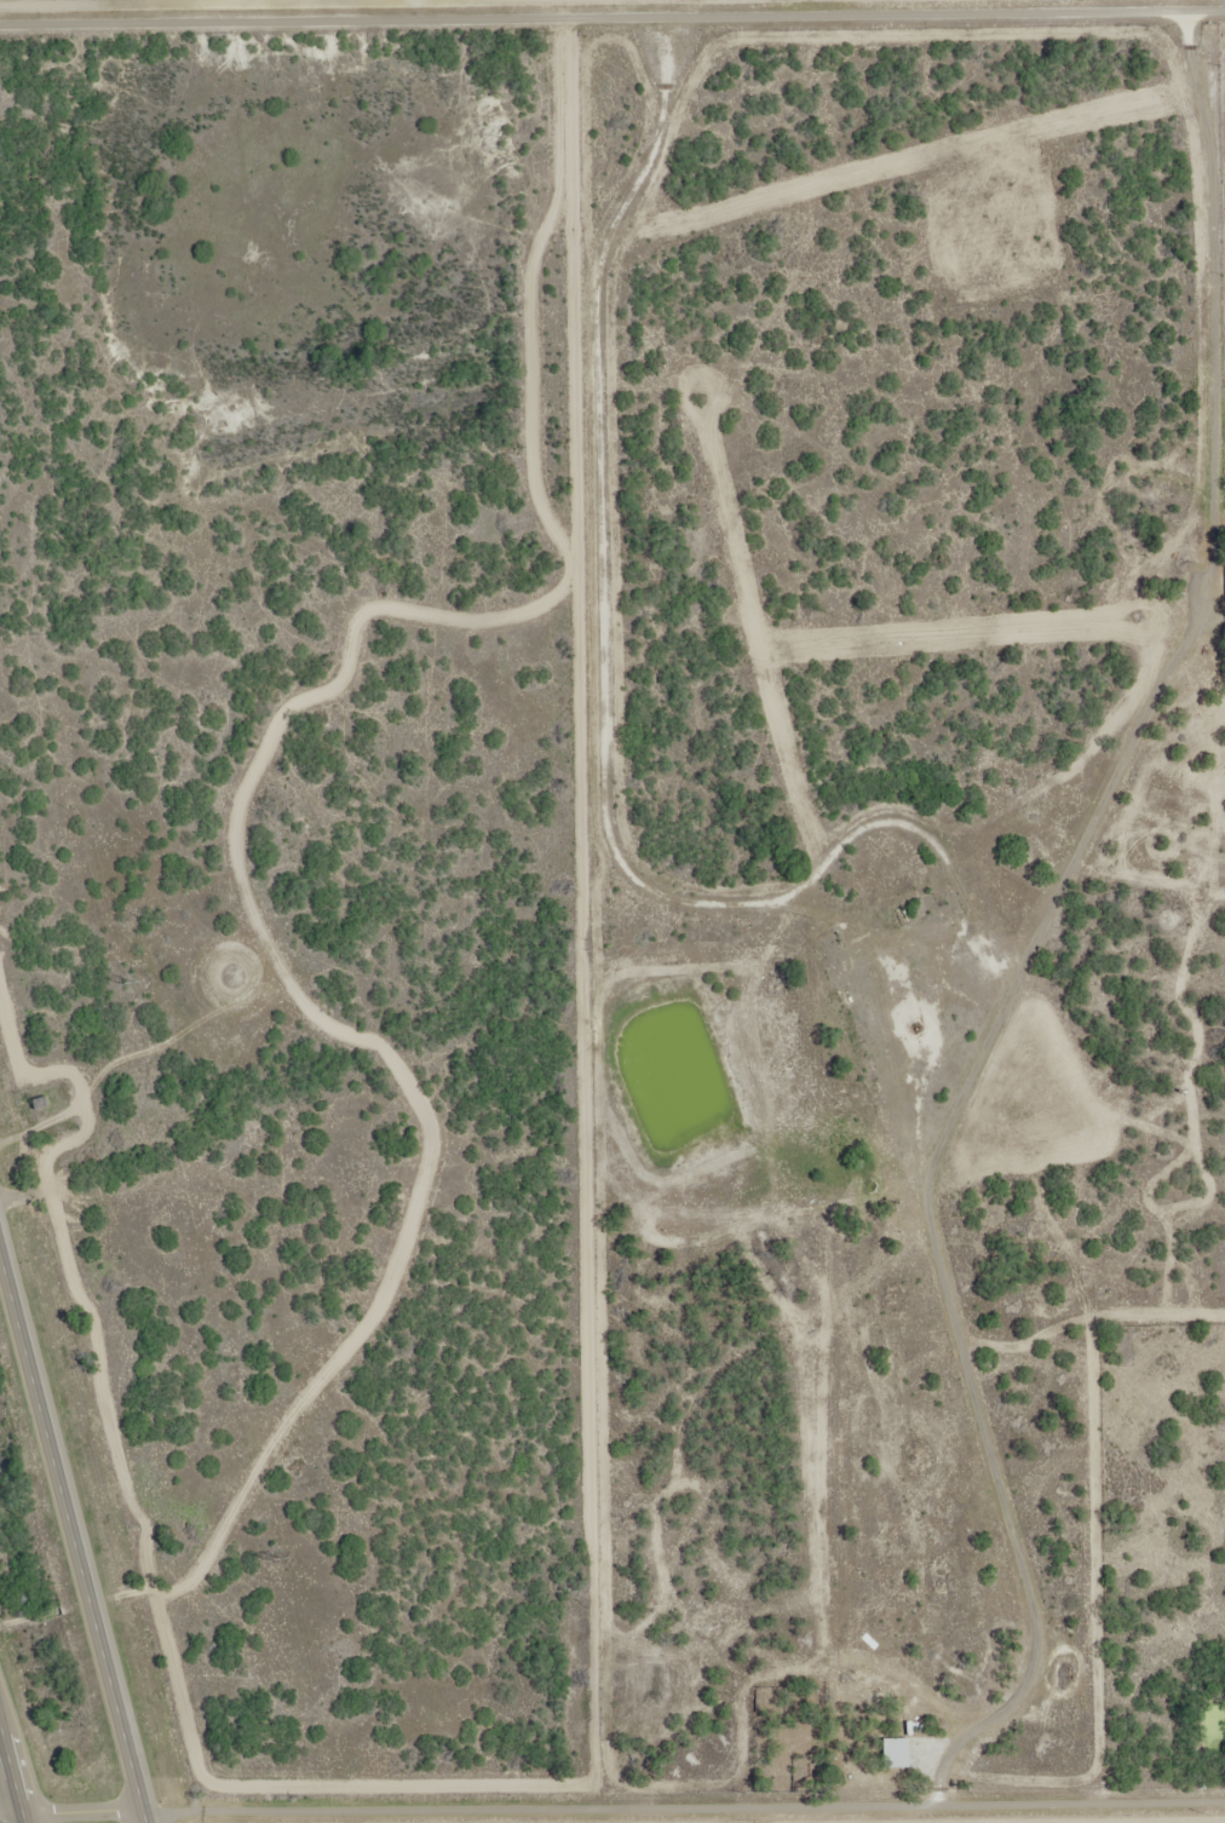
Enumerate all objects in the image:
road: (517, 8)
power tower: (131, 983)
road: (73, 1526)
road: (1053, 1554)
power tower: (277, 1558)
building: (898, 1752)
road: (15, 1759)
road: (683, 1806)
road: (13, 1810)
road: (85, 1811)

